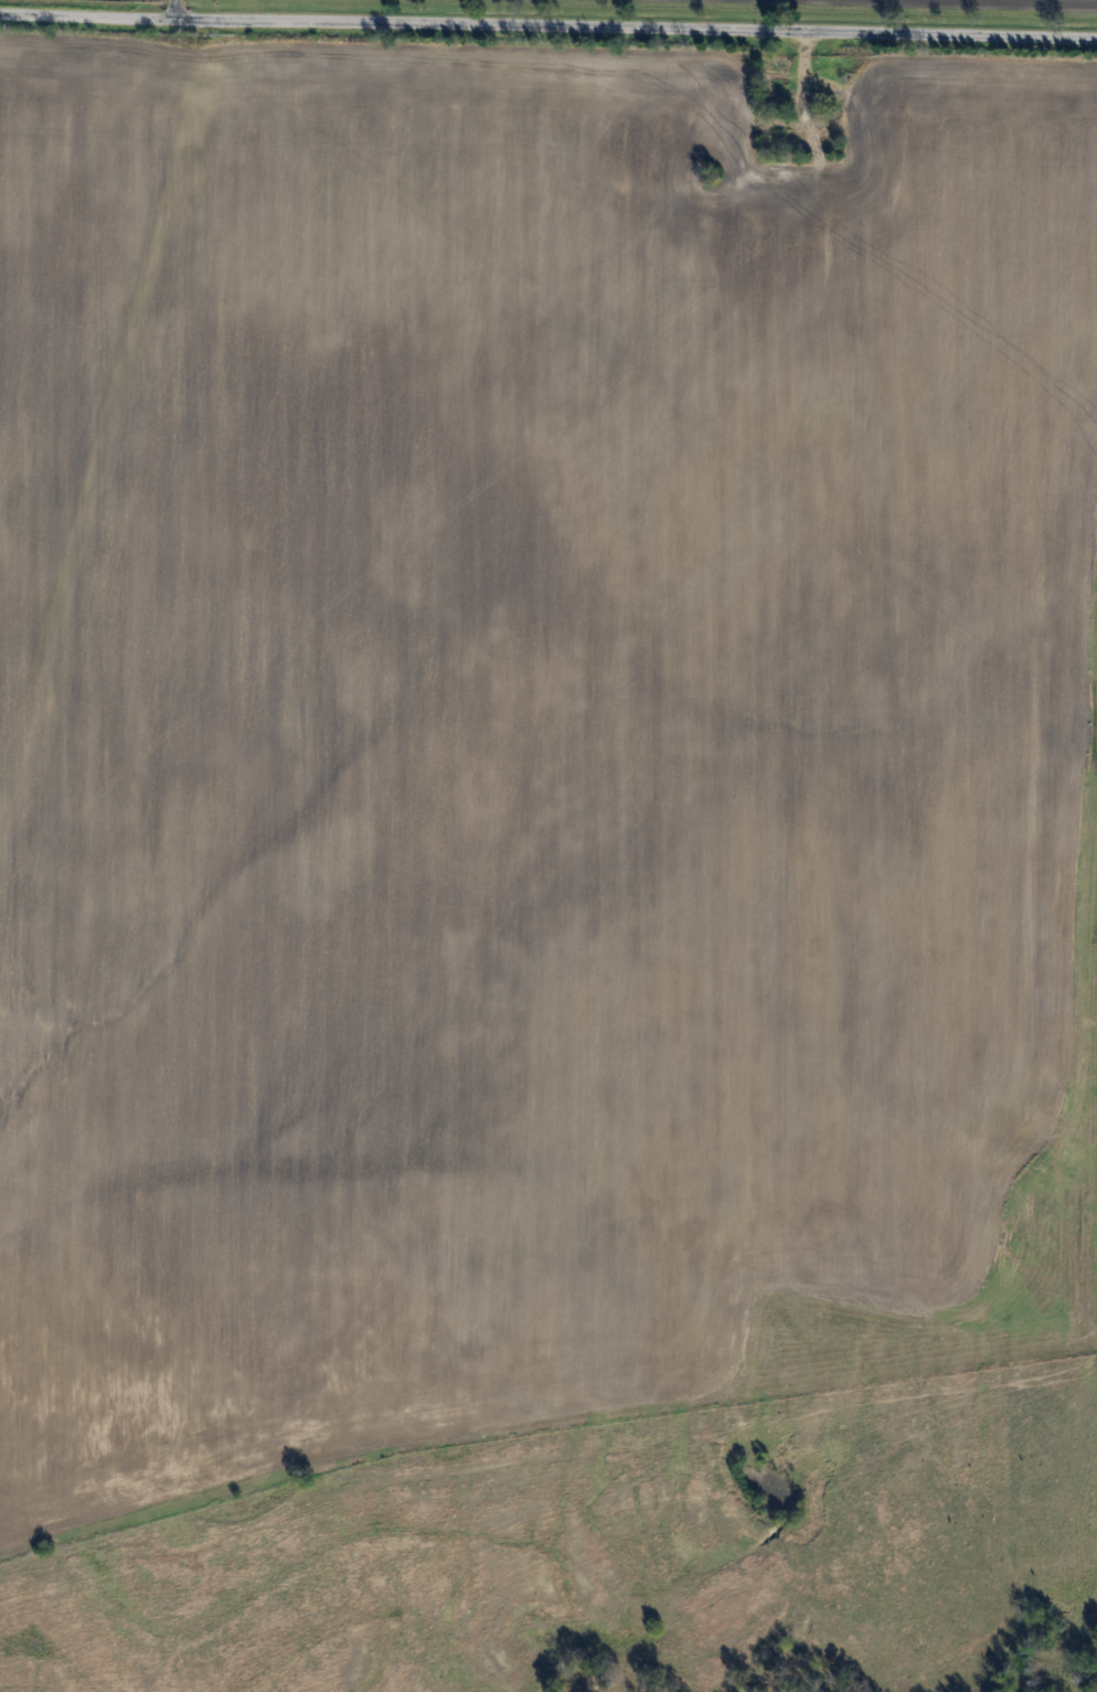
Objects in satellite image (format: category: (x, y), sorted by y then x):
road: (171, 11)
road: (547, 30)

